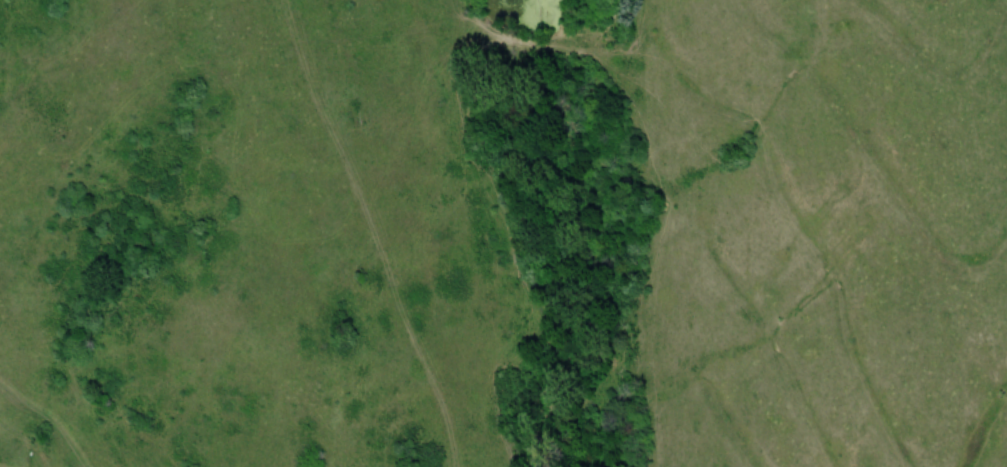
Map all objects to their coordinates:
road: (46, 418)

